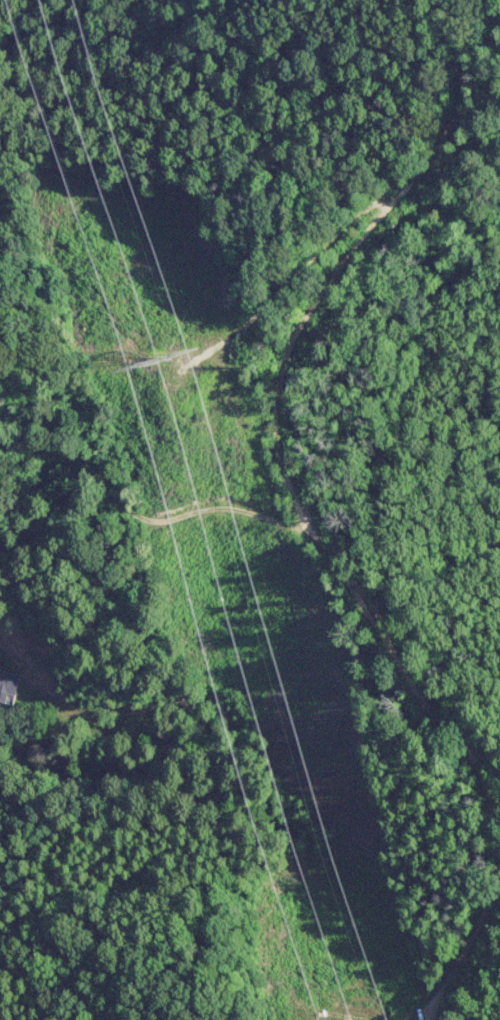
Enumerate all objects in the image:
building: (10, 685)

